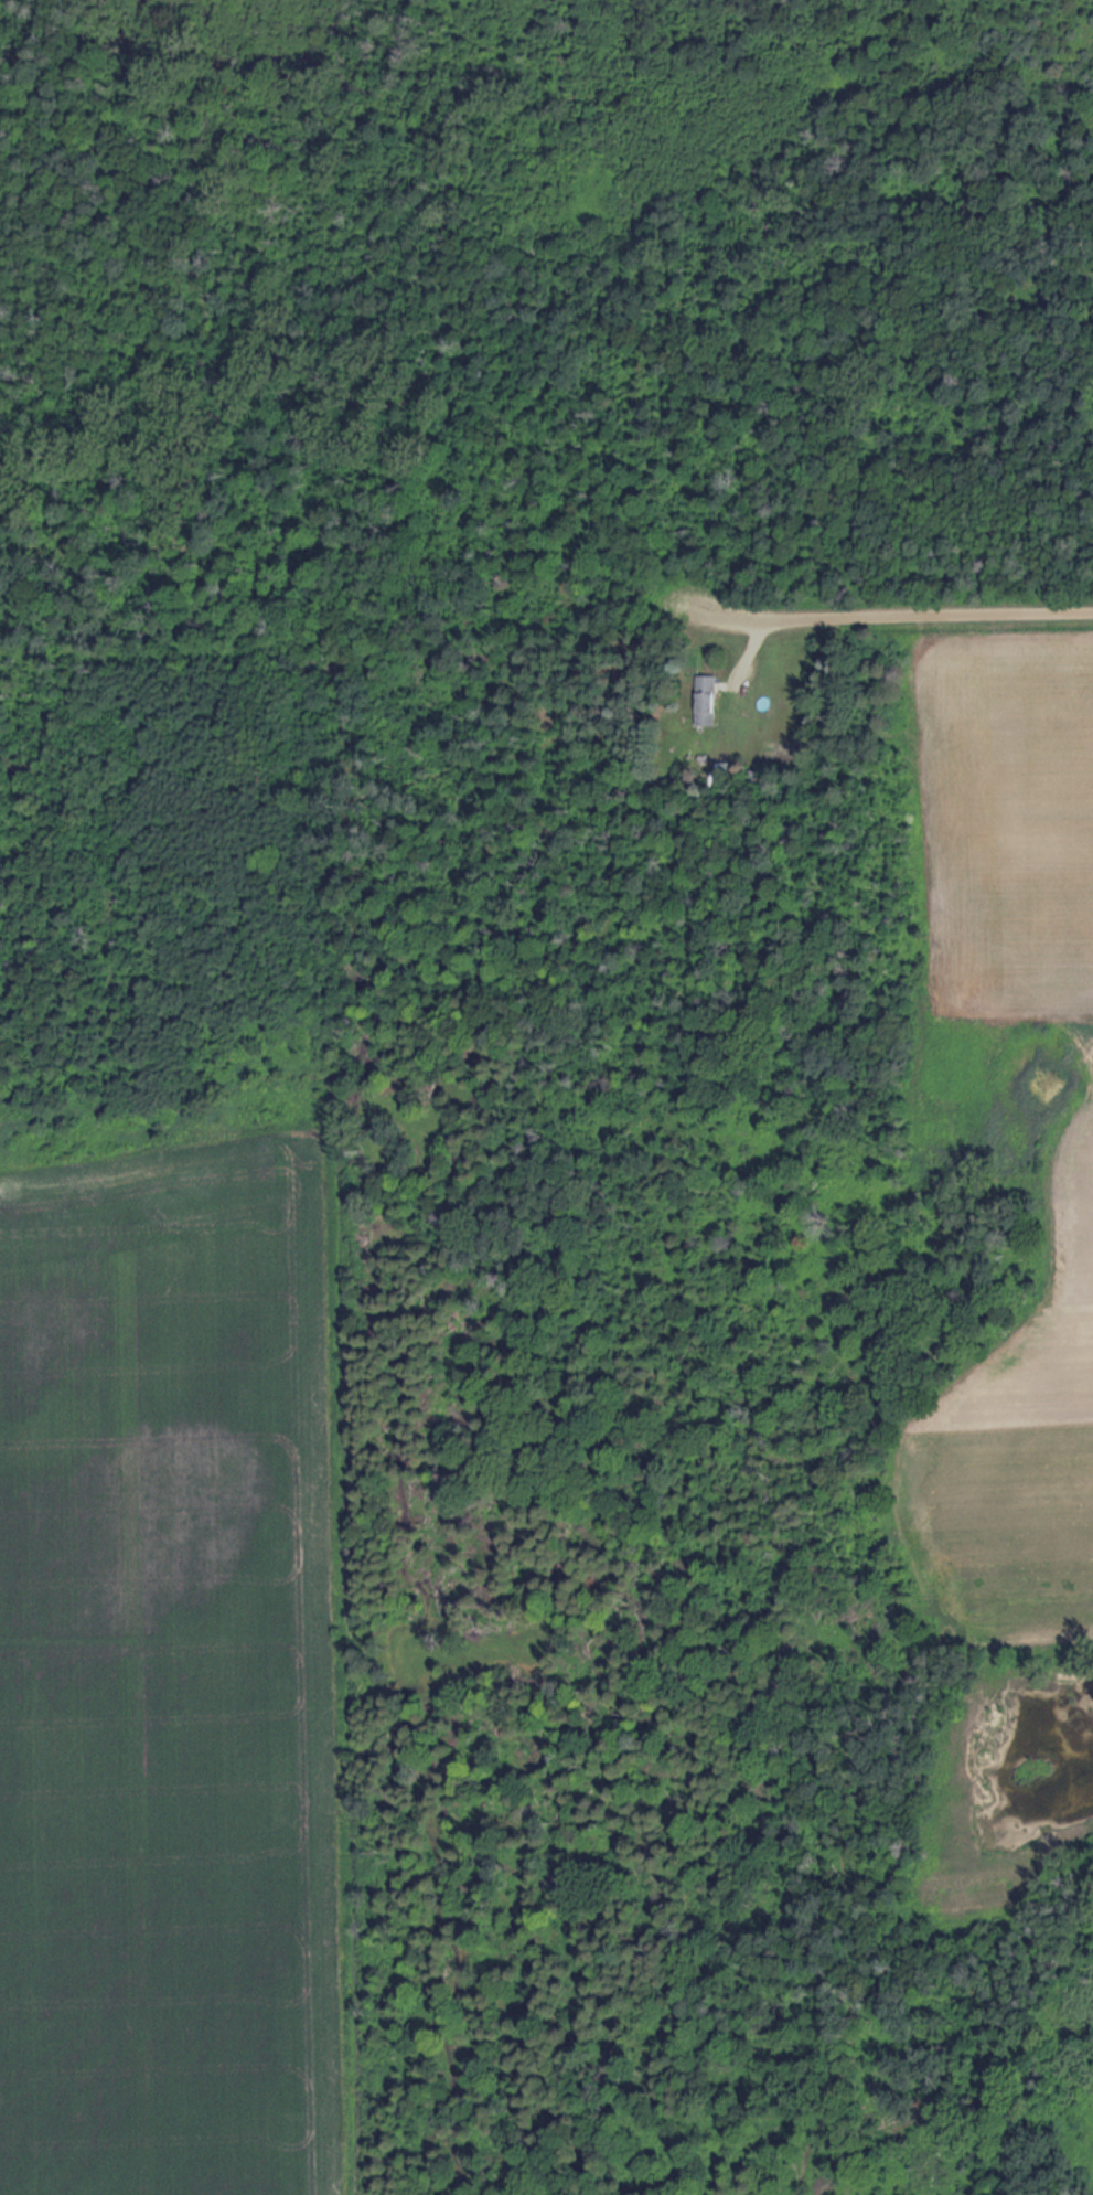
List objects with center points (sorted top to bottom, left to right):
road: (868, 620)
building: (712, 710)

